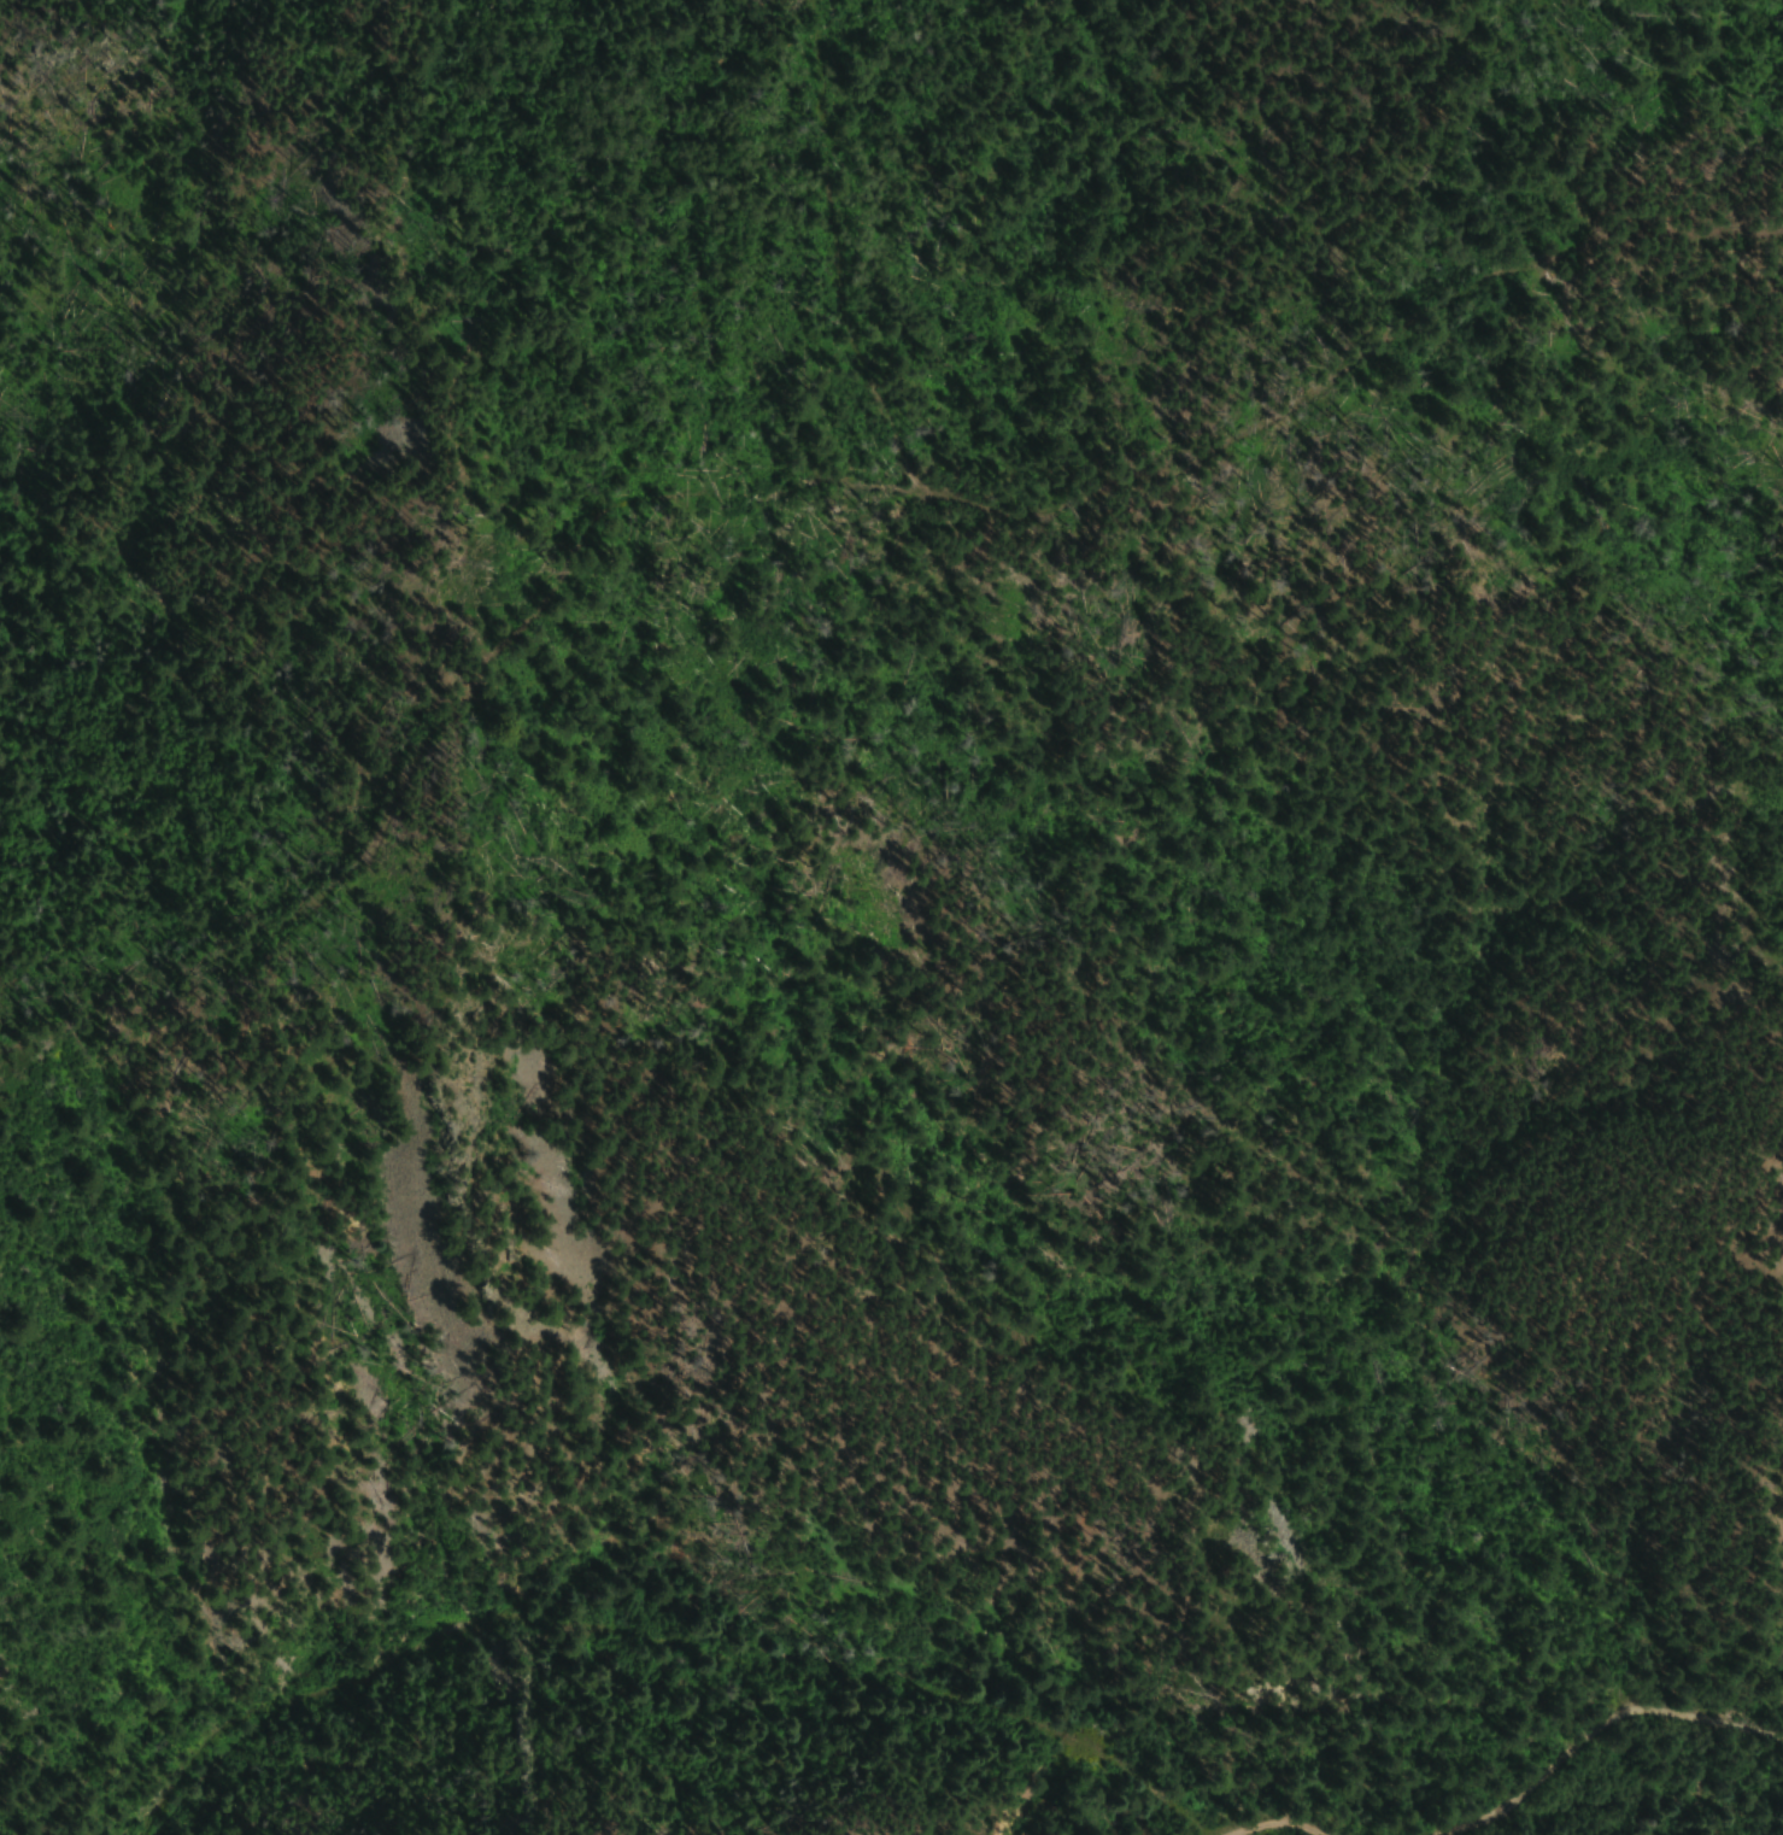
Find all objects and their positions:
road: (1603, 1736)
road: (1278, 1824)

